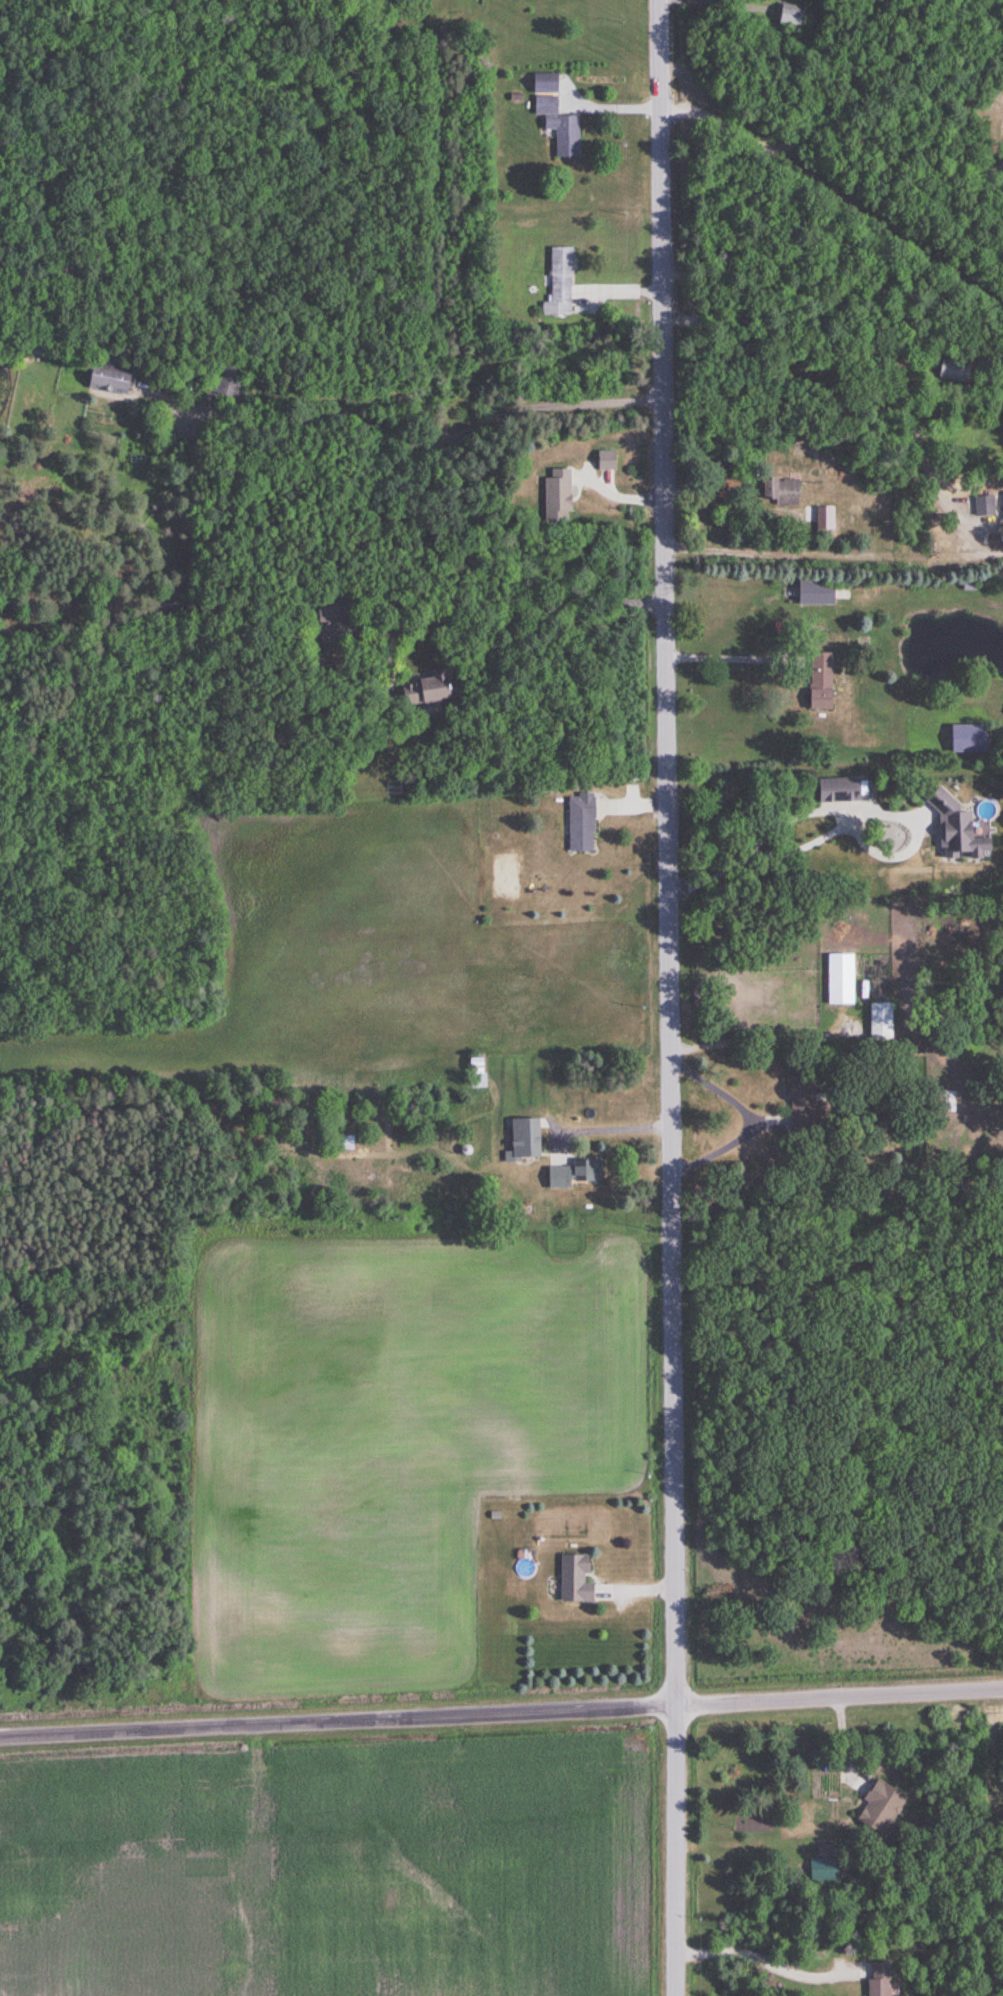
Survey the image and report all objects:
building: (790, 16)
building: (544, 82)
building: (559, 126)
building: (560, 282)
building: (108, 377)
building: (225, 377)
road: (427, 441)
building: (605, 459)
building: (779, 491)
building: (555, 495)
building: (1002, 498)
building: (982, 505)
building: (823, 517)
road: (833, 554)
building: (814, 592)
building: (324, 610)
road: (722, 639)
building: (819, 680)
building: (423, 689)
building: (967, 738)
building: (837, 789)
road: (841, 822)
building: (580, 823)
building: (957, 831)
building: (840, 978)
road: (669, 997)
building: (880, 1020)
building: (476, 1072)
building: (798, 1100)
building: (941, 1100)
road: (743, 1116)
building: (523, 1138)
building: (343, 1141)
building: (571, 1174)
building: (574, 1580)
road: (501, 1714)
building: (879, 1809)
building: (823, 1870)
road: (765, 1956)

